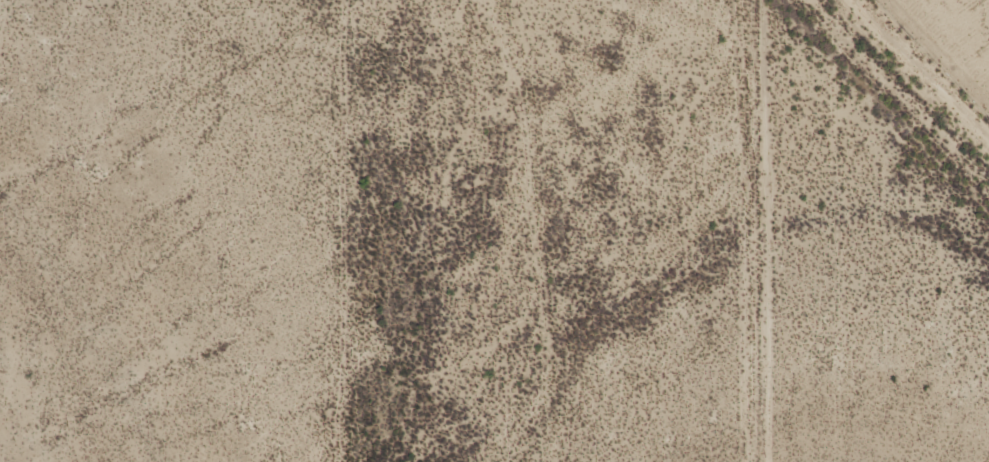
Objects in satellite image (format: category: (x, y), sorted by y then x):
road: (937, 51)

